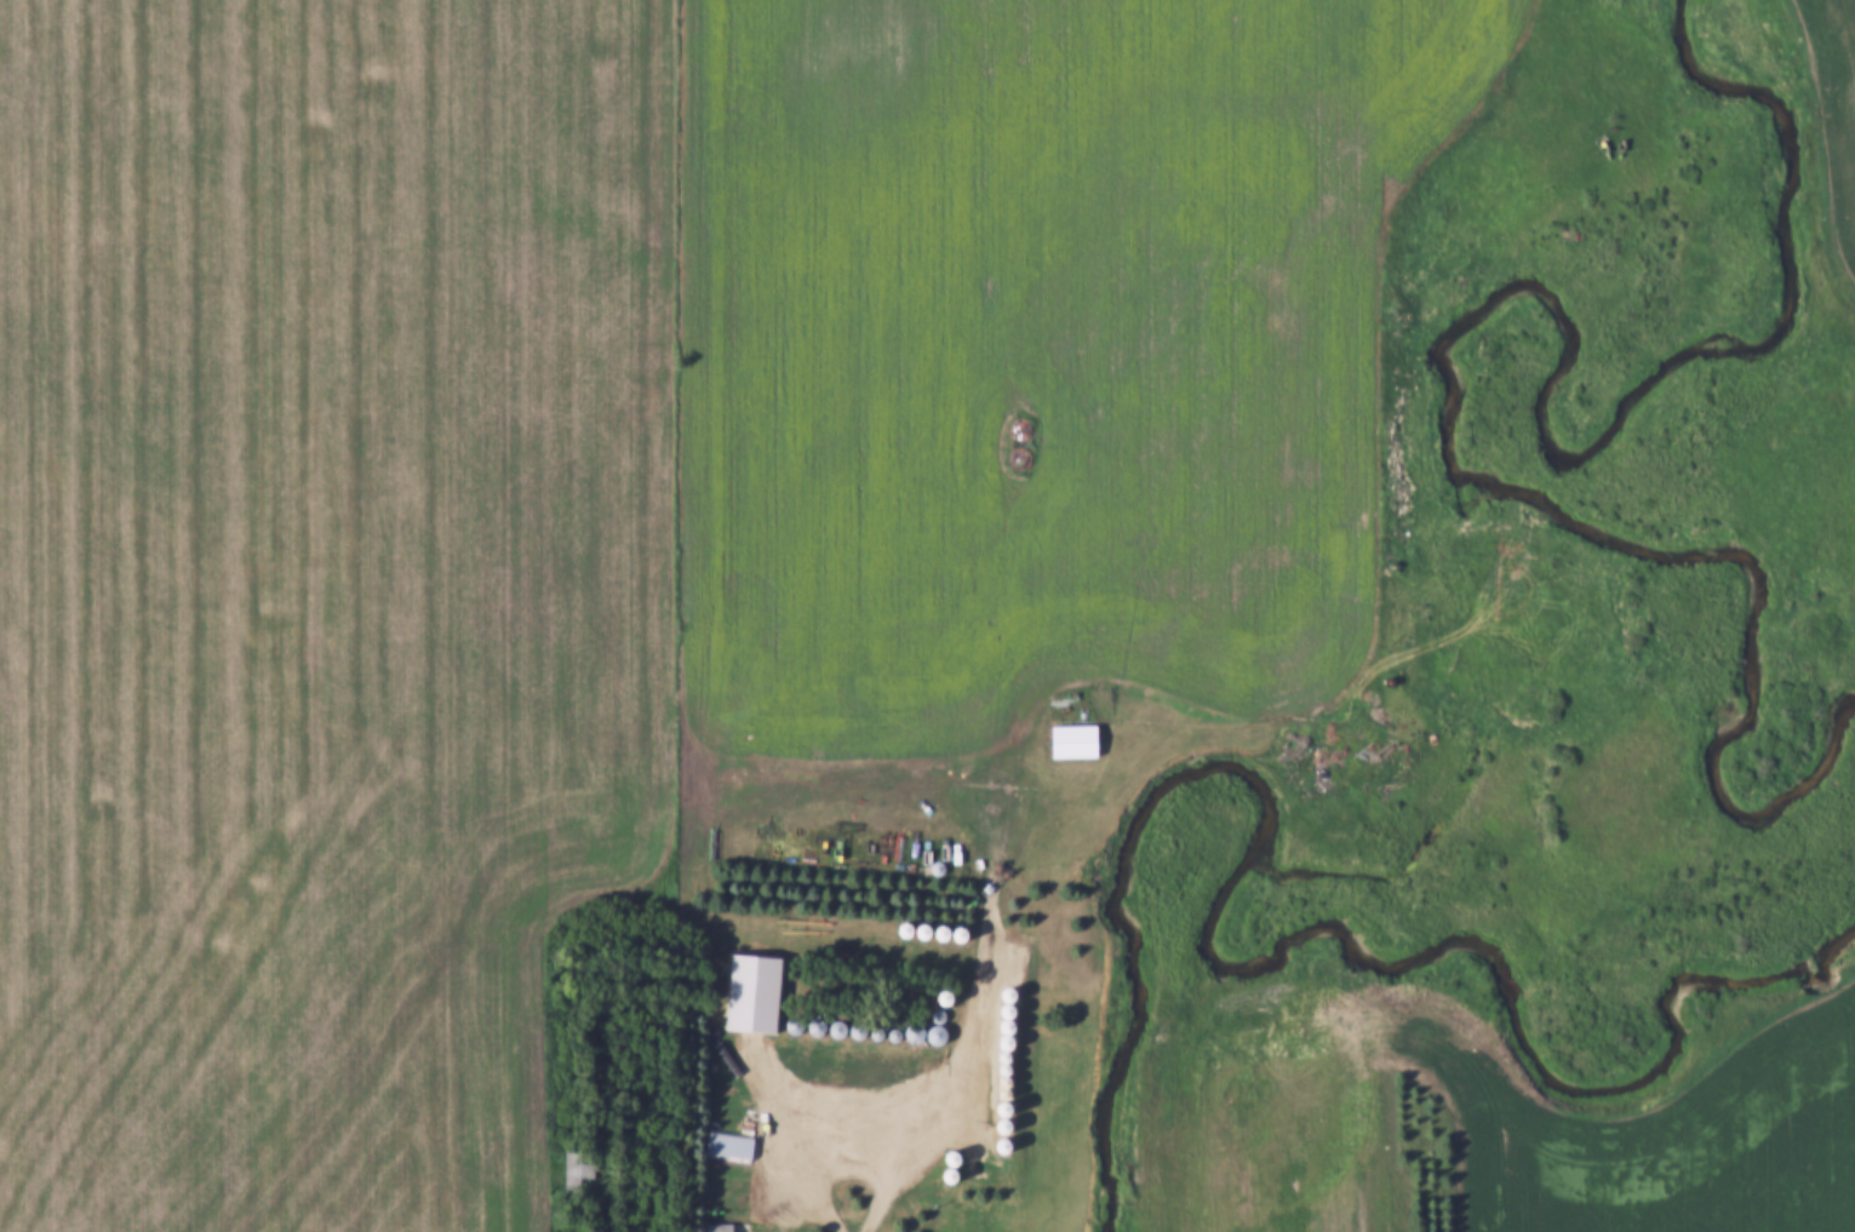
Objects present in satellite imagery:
building: (1078, 743)
building: (860, 1033)
building: (929, 1036)
building: (732, 1148)
road: (846, 1169)
building: (579, 1174)

